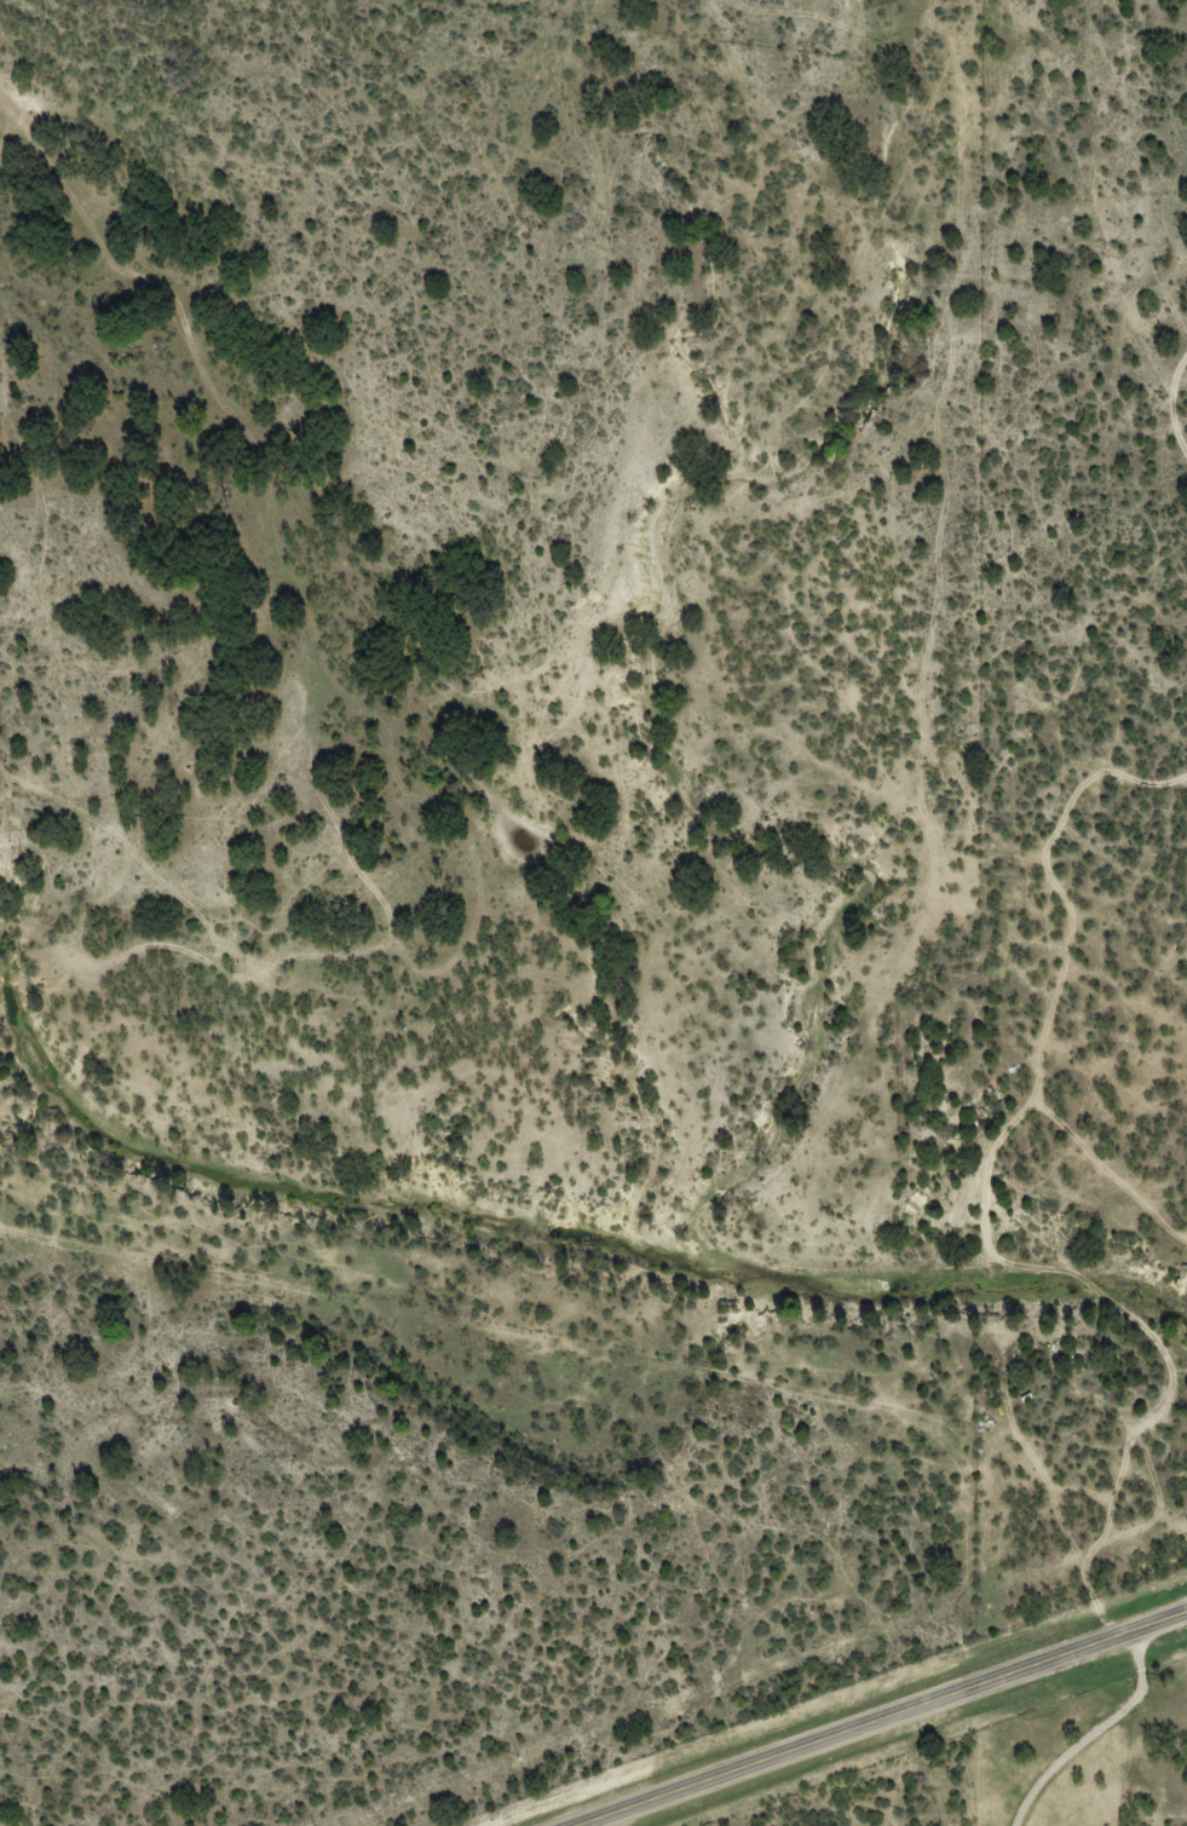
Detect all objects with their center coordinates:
road: (883, 1720)

